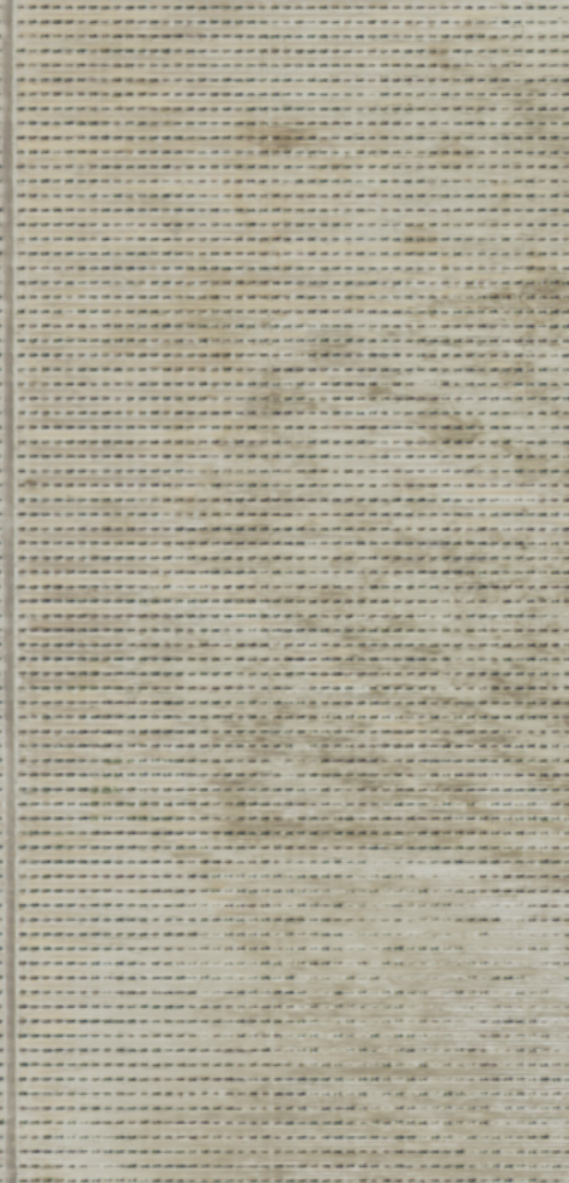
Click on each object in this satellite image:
crop: (212, 304)

